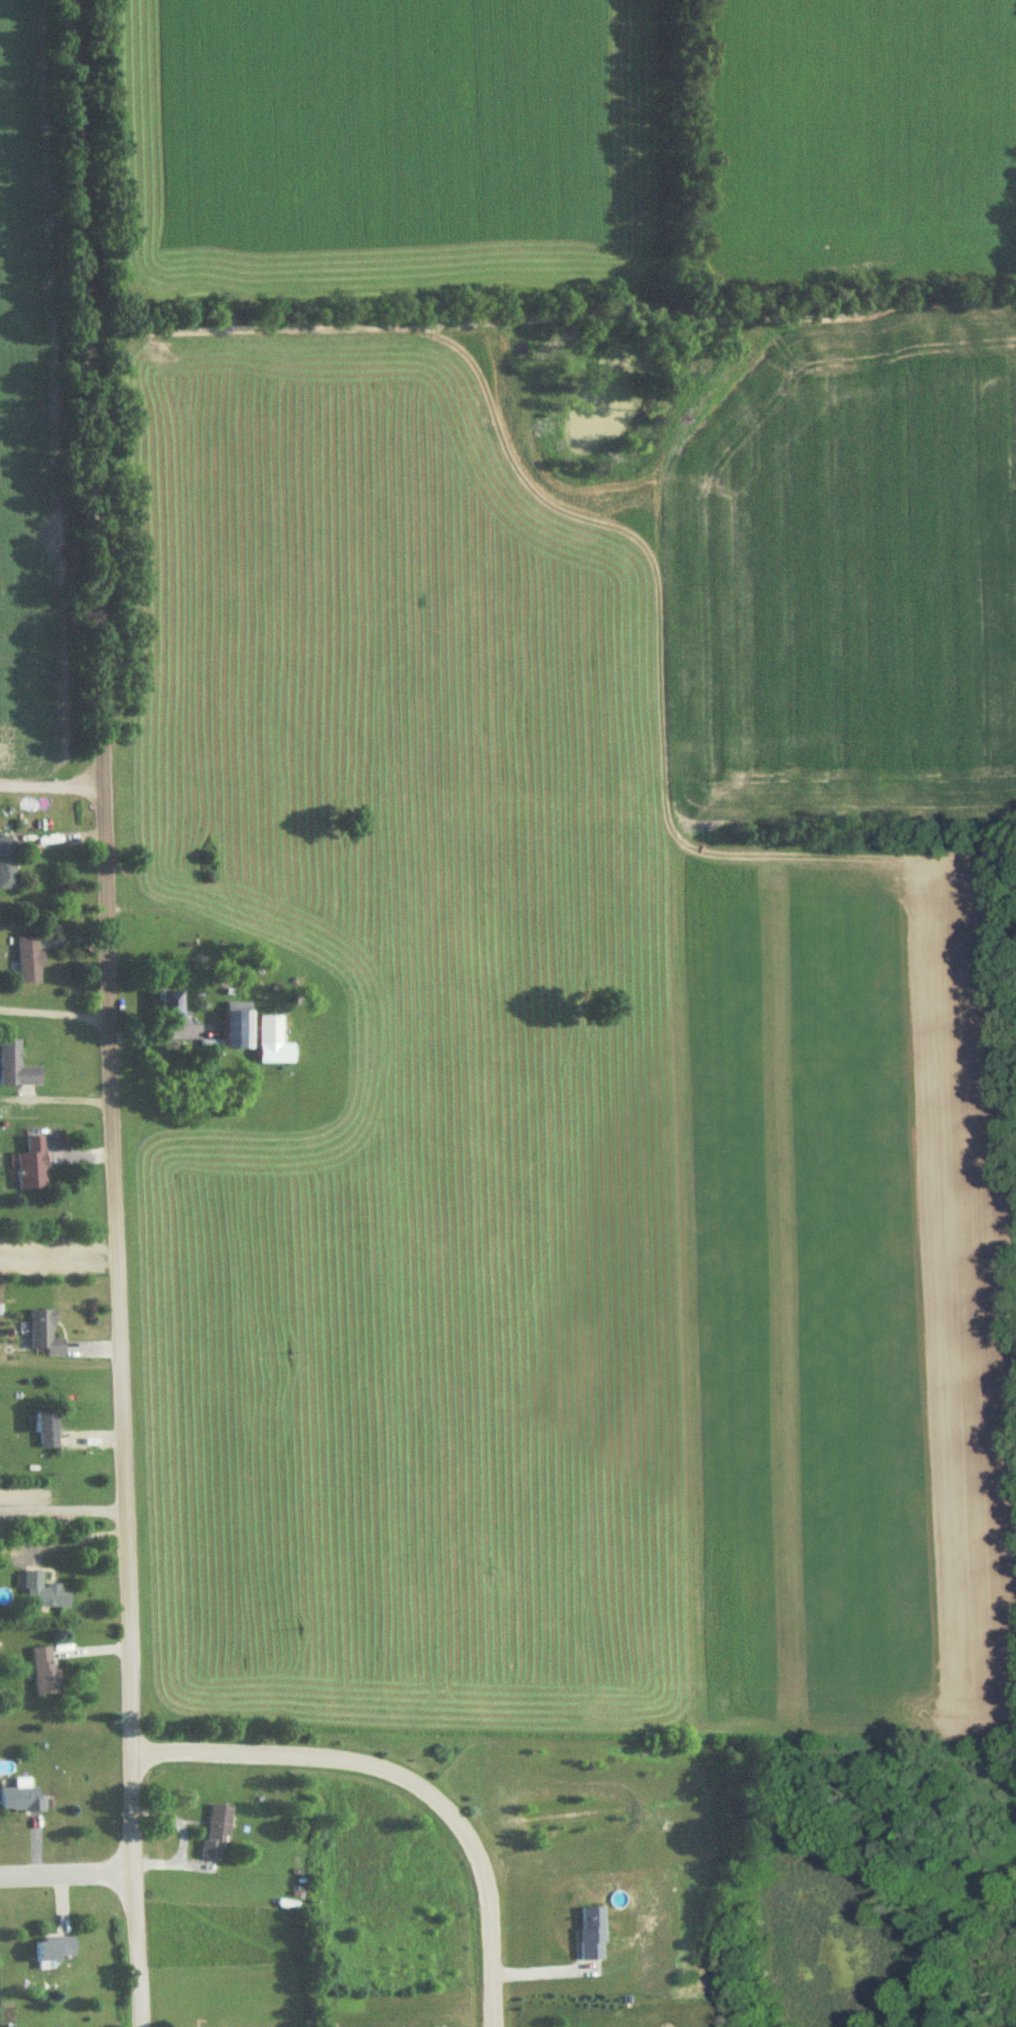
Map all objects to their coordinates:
road: (47, 781)
building: (7, 864)
building: (29, 960)
building: (171, 998)
road: (51, 1010)
road: (102, 1013)
building: (239, 1025)
building: (271, 1030)
building: (16, 1067)
road: (52, 1097)
building: (33, 1165)
building: (45, 1334)
building: (47, 1430)
road: (60, 1510)
building: (44, 1592)
building: (45, 1670)
road: (404, 1779)
building: (21, 1801)
building: (217, 1831)
road: (182, 1836)
road: (65, 1876)
building: (53, 1950)

